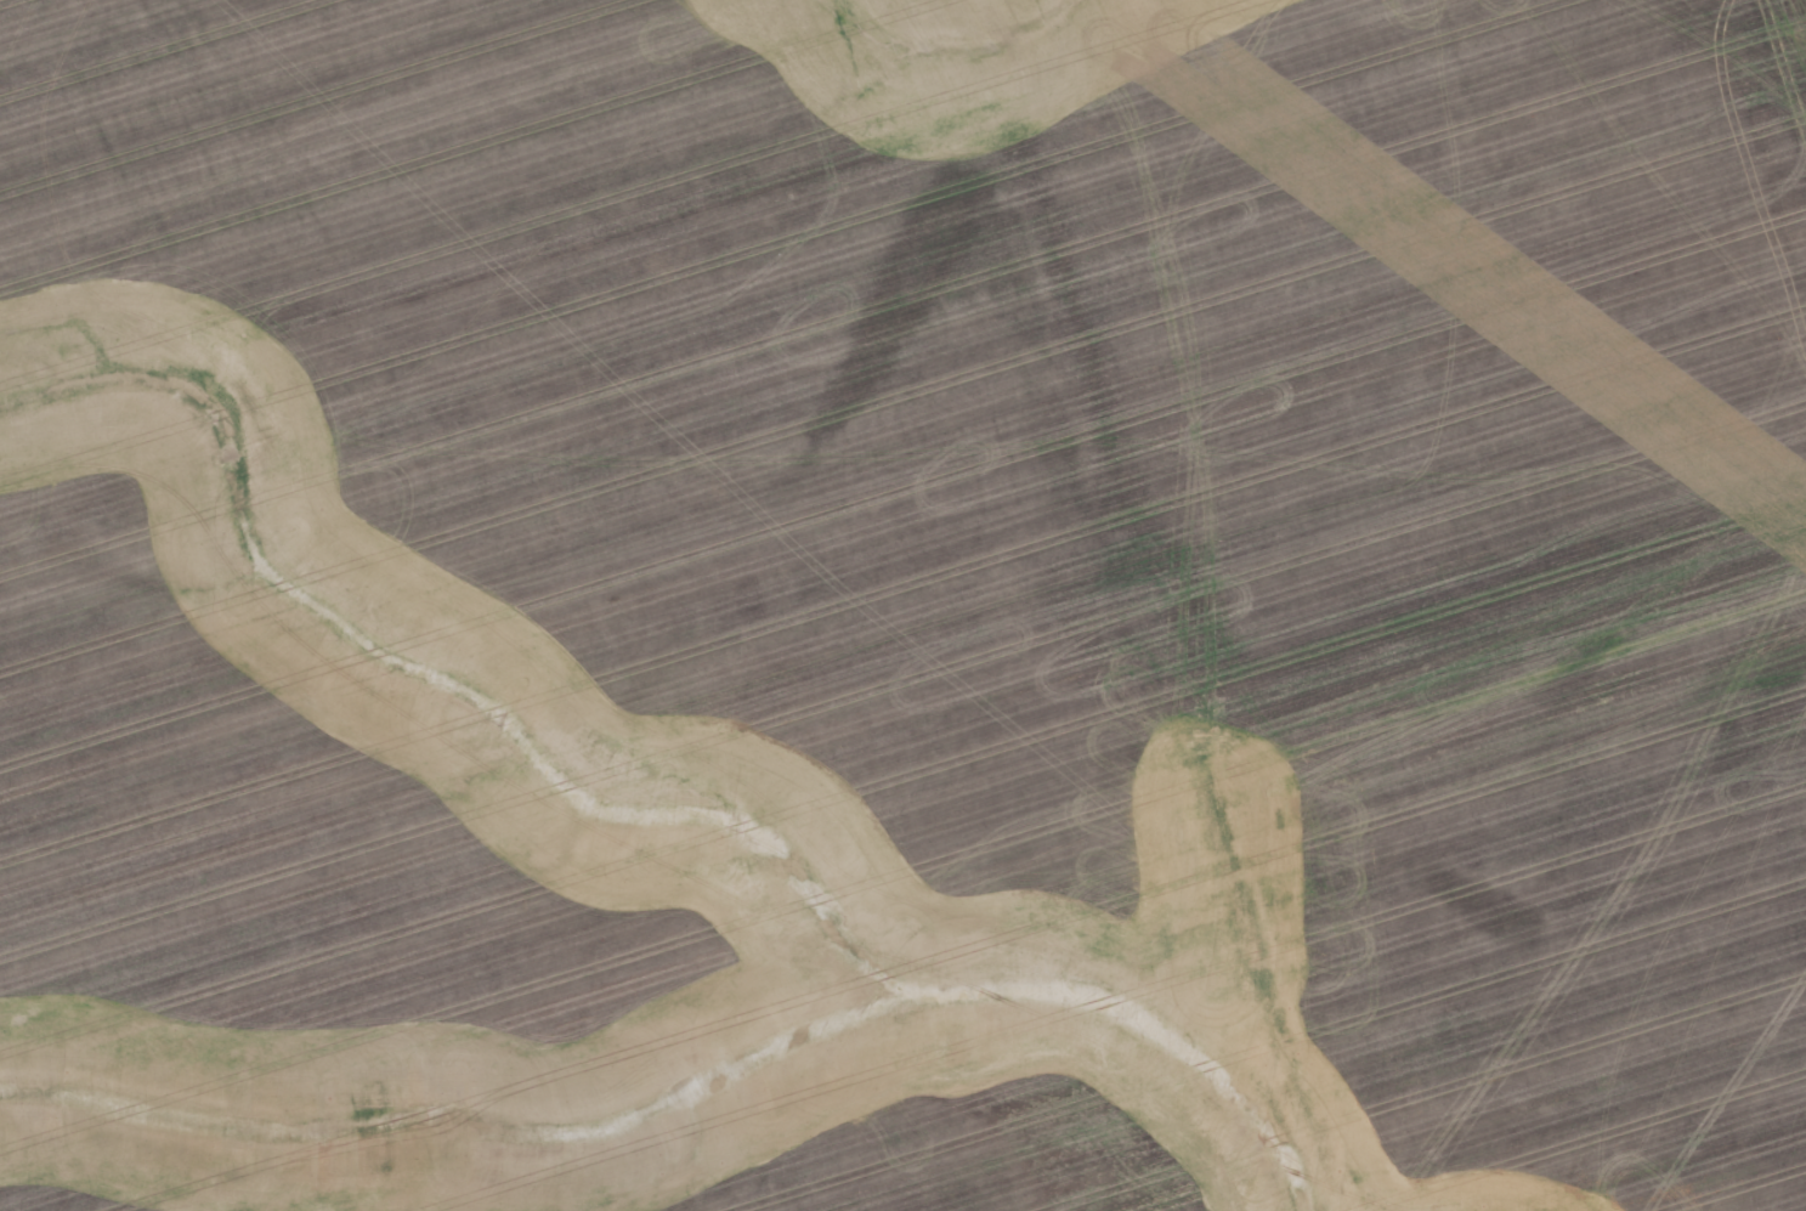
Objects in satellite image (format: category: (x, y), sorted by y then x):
road: (1510, 632)
road: (1280, 955)

